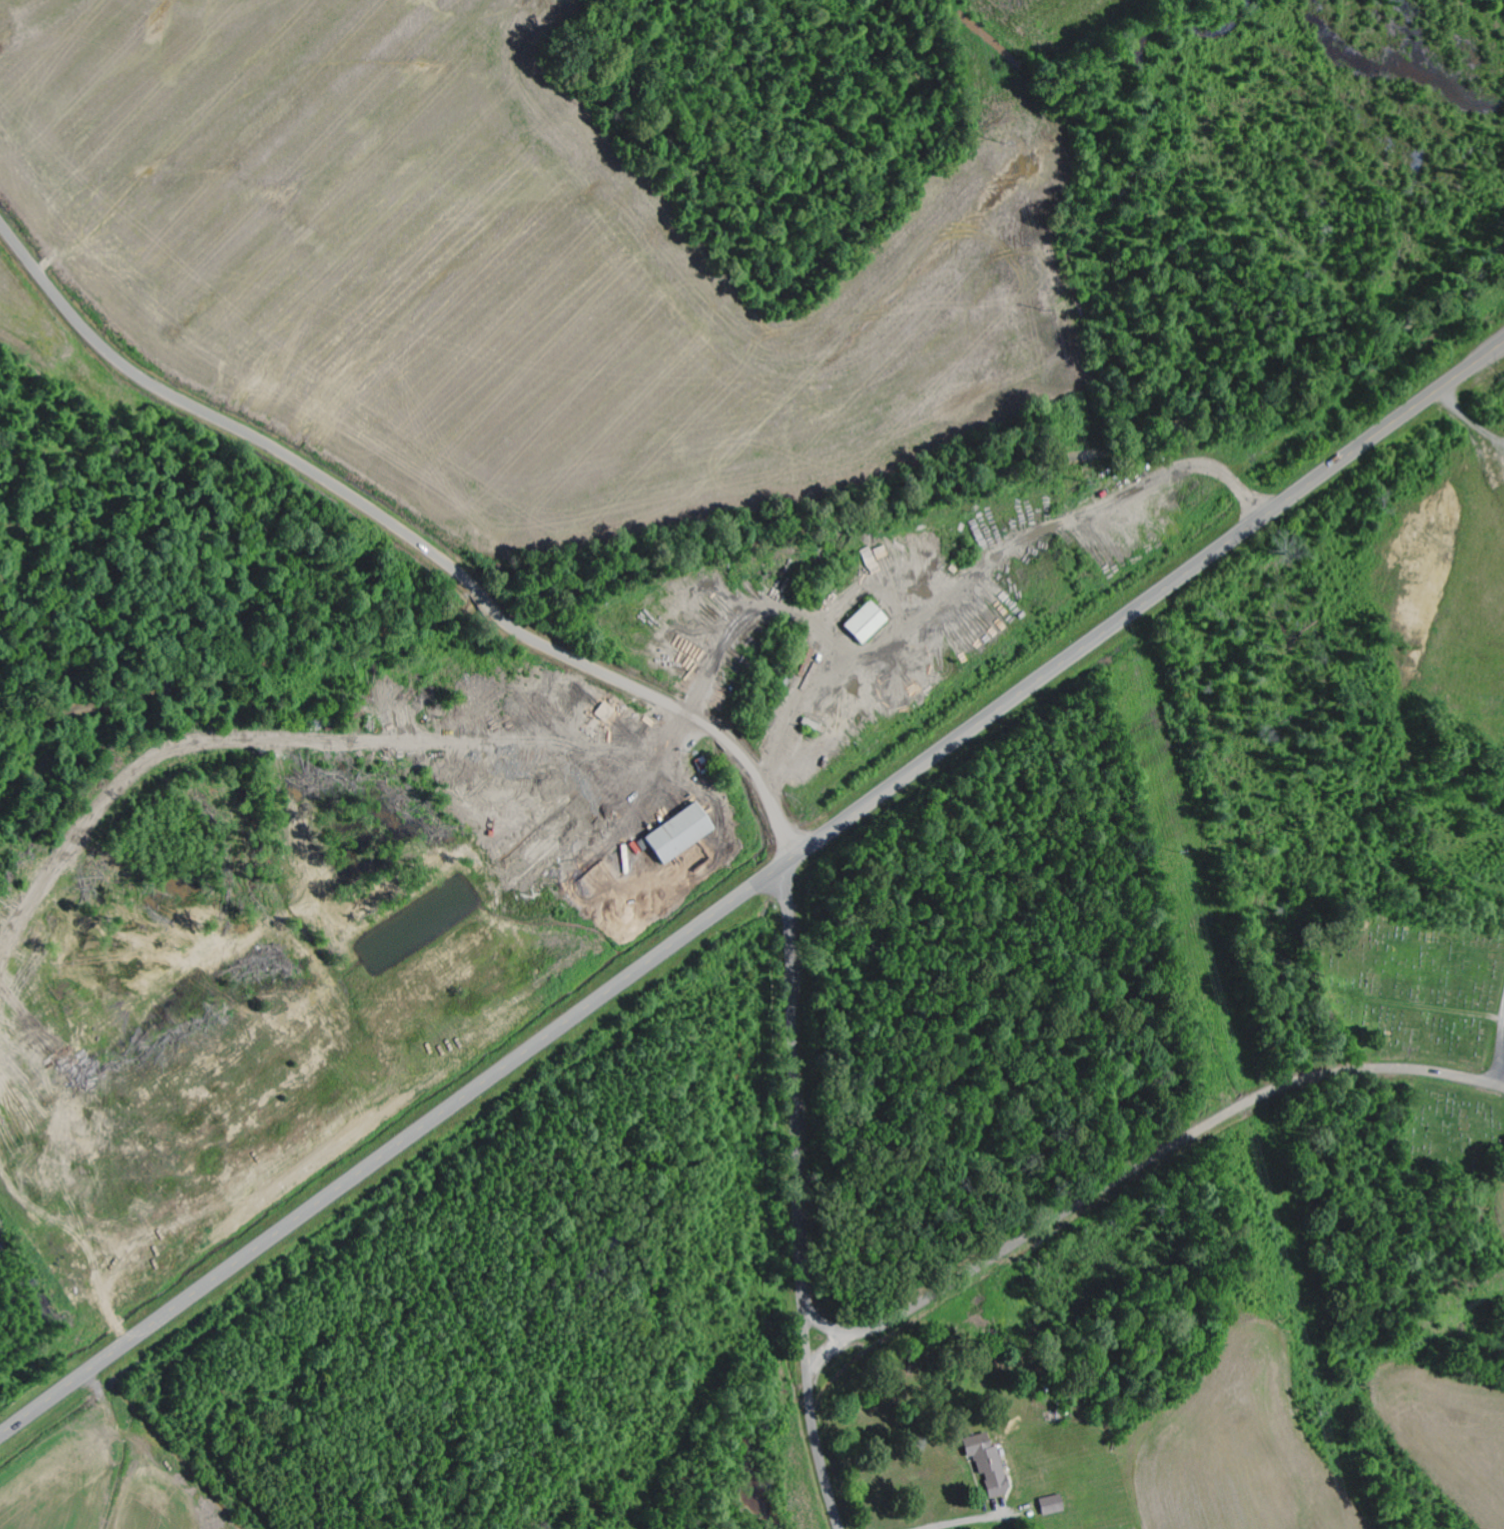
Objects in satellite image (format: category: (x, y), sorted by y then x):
road: (223, 423)
road: (483, 601)
building: (870, 622)
road: (670, 707)
building: (607, 712)
building: (706, 765)
building: (684, 833)
road: (751, 890)
park: (1416, 991)
road: (1498, 1052)
park: (1450, 1136)
road: (1132, 1172)
road: (799, 1198)
road: (830, 1355)
building: (1055, 1506)

